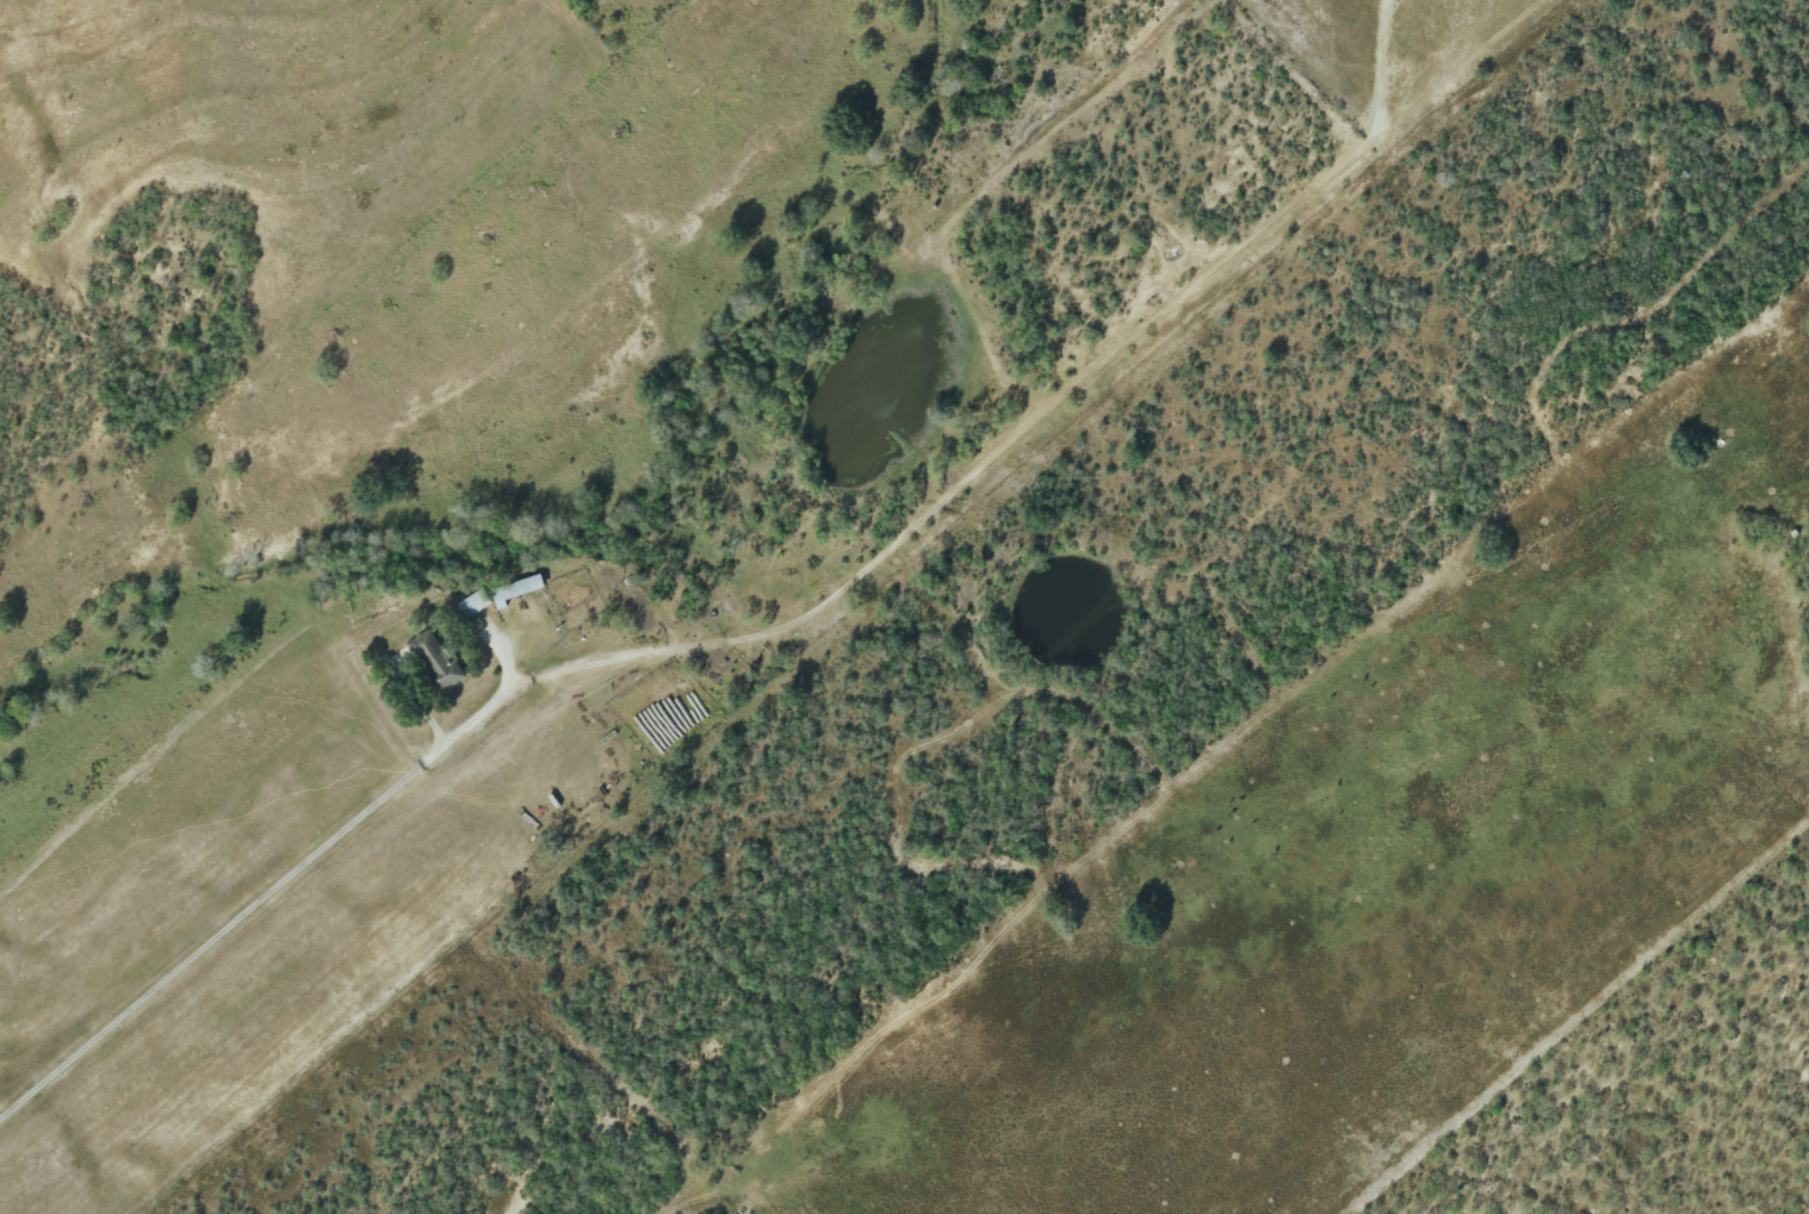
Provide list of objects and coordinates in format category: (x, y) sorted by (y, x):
building: (473, 603)
building: (434, 661)
road: (272, 894)

